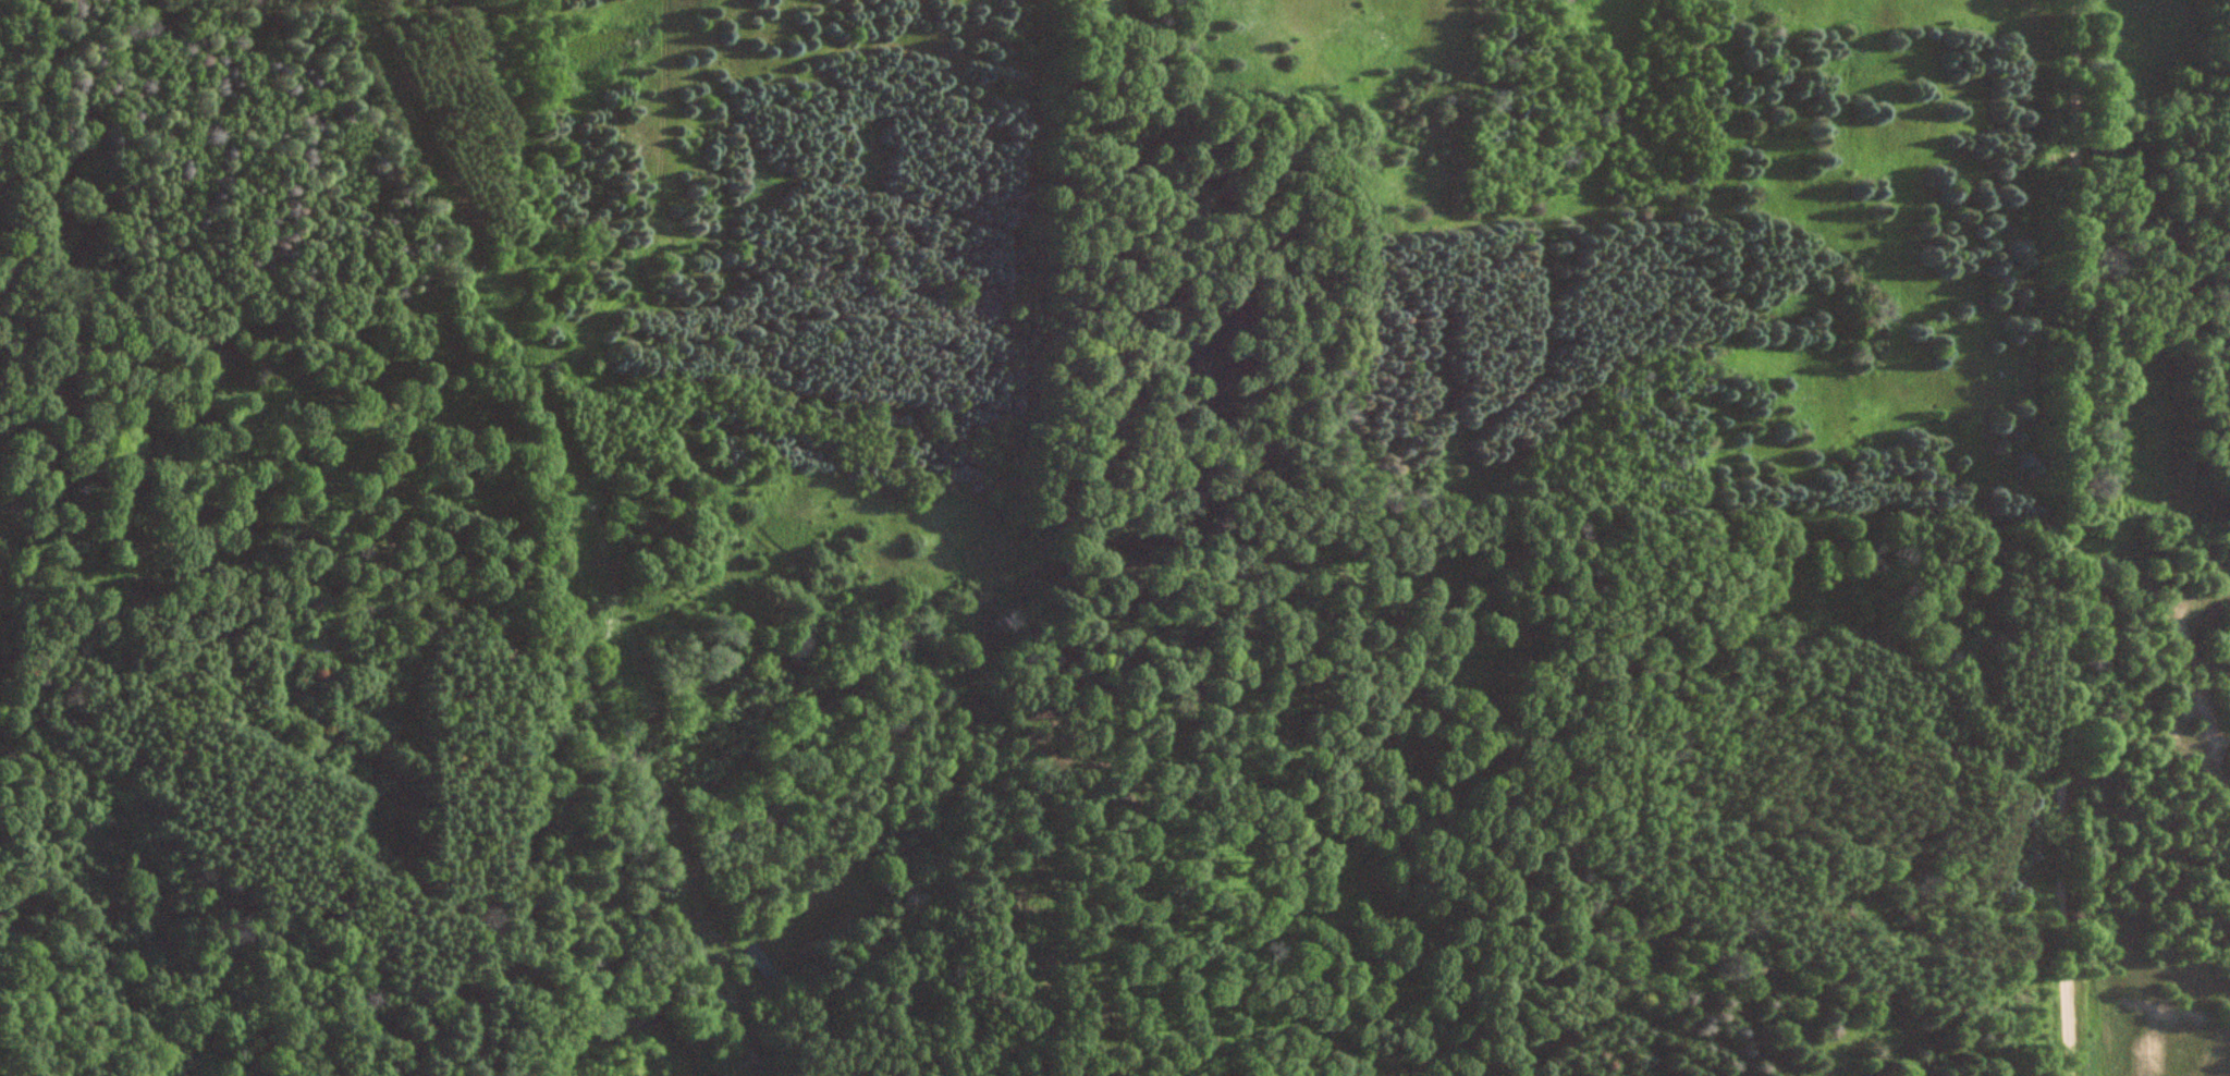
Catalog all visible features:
road: (2074, 536)

